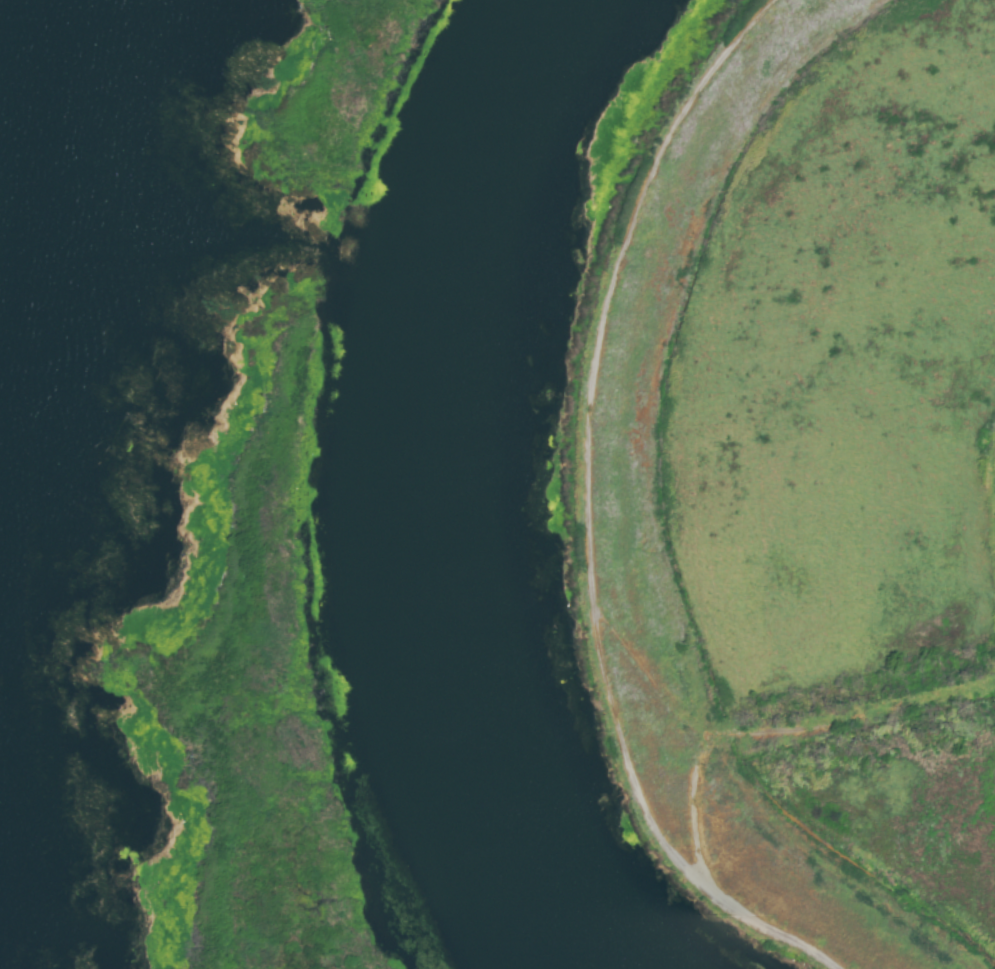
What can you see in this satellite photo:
crop: (838, 483)
river: (428, 488)

